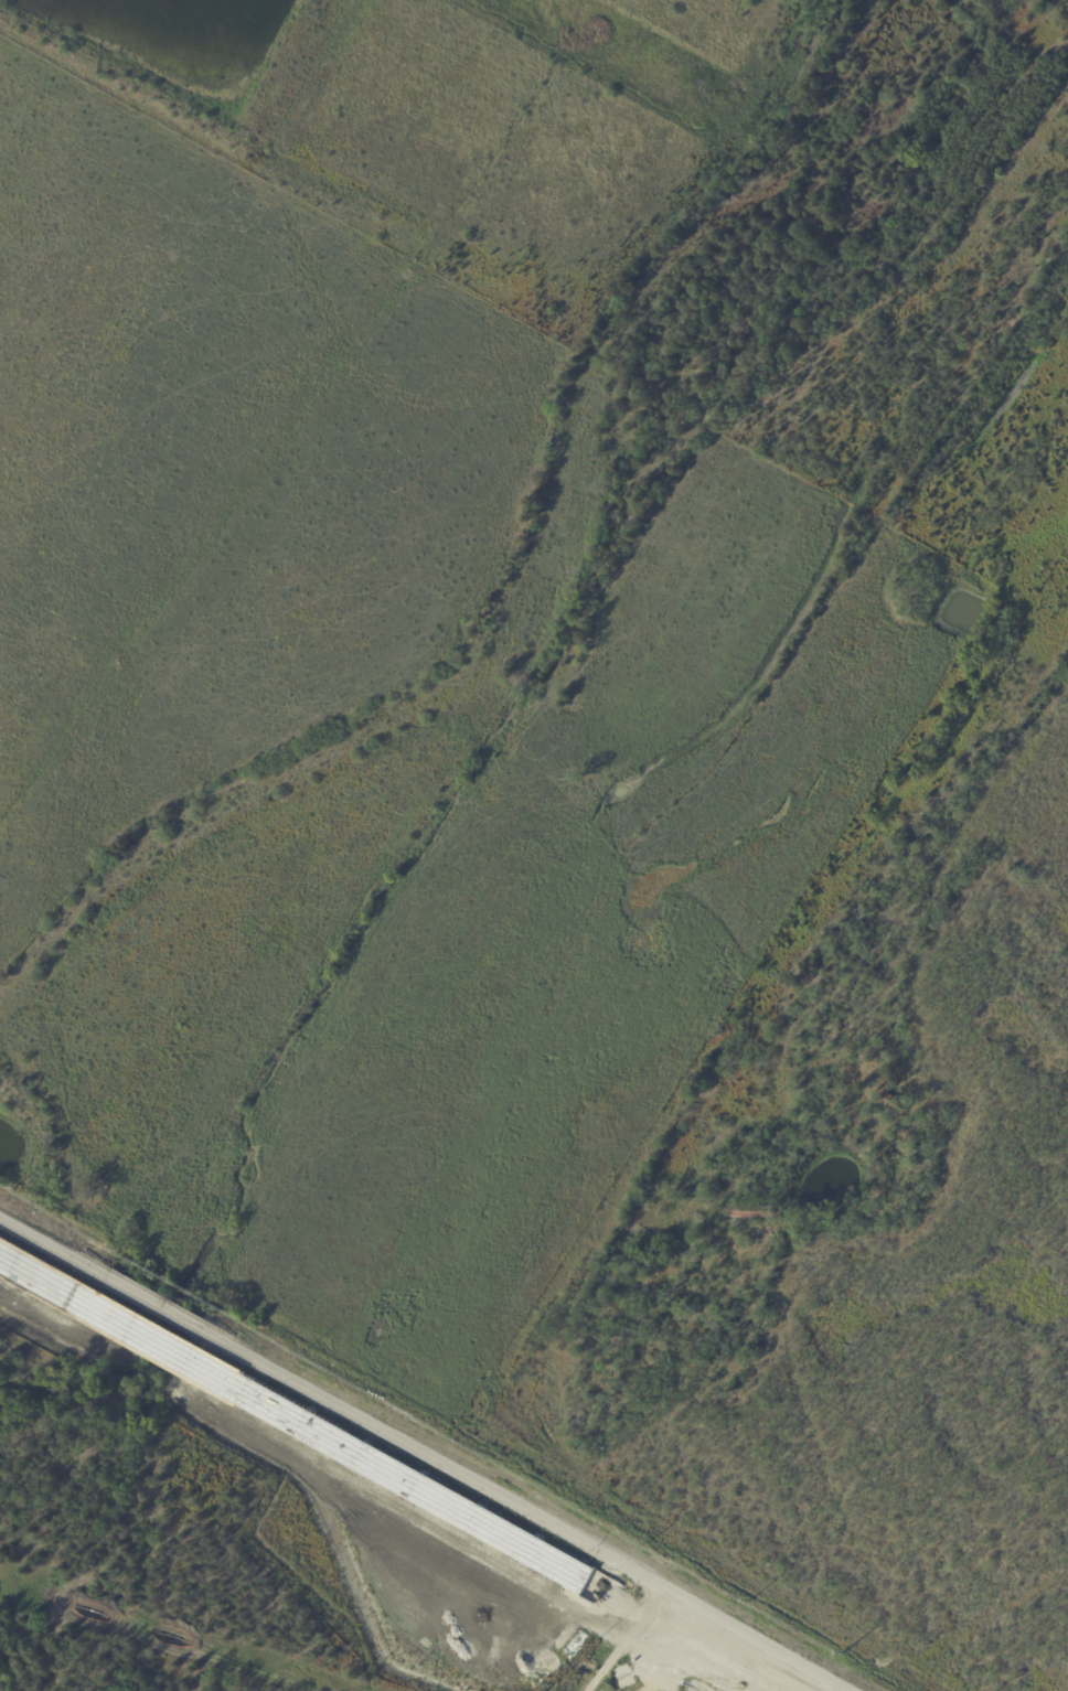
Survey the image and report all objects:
building: (896, 1105)
building: (757, 1213)
road: (38, 1240)
road: (151, 1303)
park: (652, 1363)
road: (538, 1518)
road: (630, 1641)

